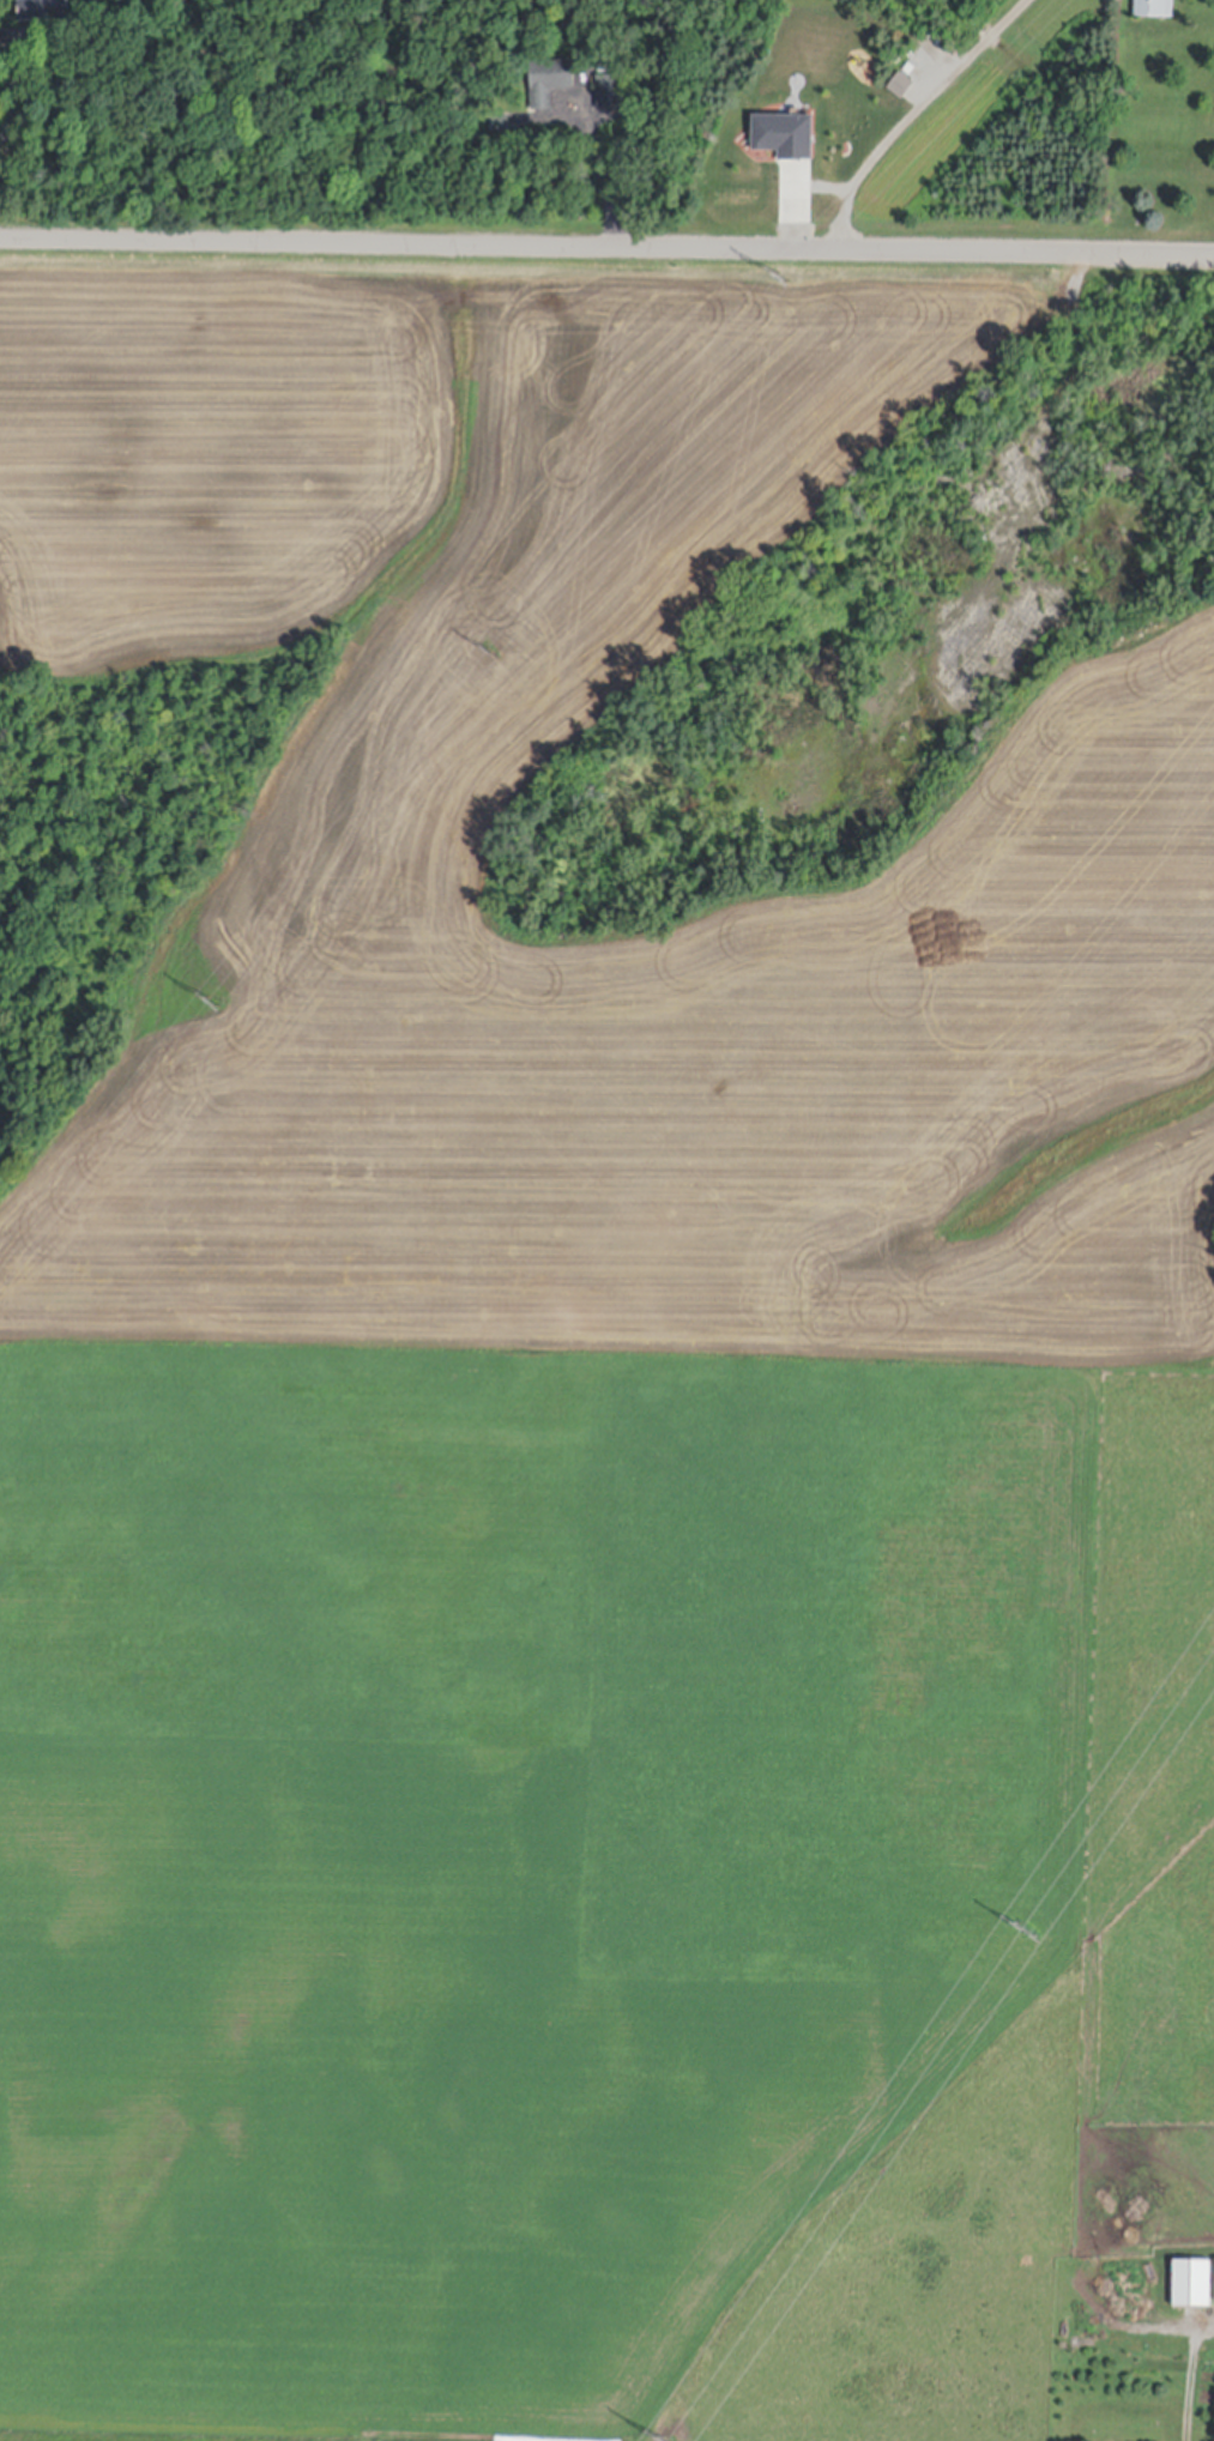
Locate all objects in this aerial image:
building: (1154, 8)
building: (42, 11)
road: (62, 34)
building: (550, 84)
building: (611, 95)
road: (910, 114)
building: (500, 127)
road: (1, 139)
road: (606, 247)
power tower: (783, 279)
power tower: (487, 652)
quarry: (606, 804)
power tower: (213, 999)
power tower: (1023, 1929)
road: (1189, 2379)

